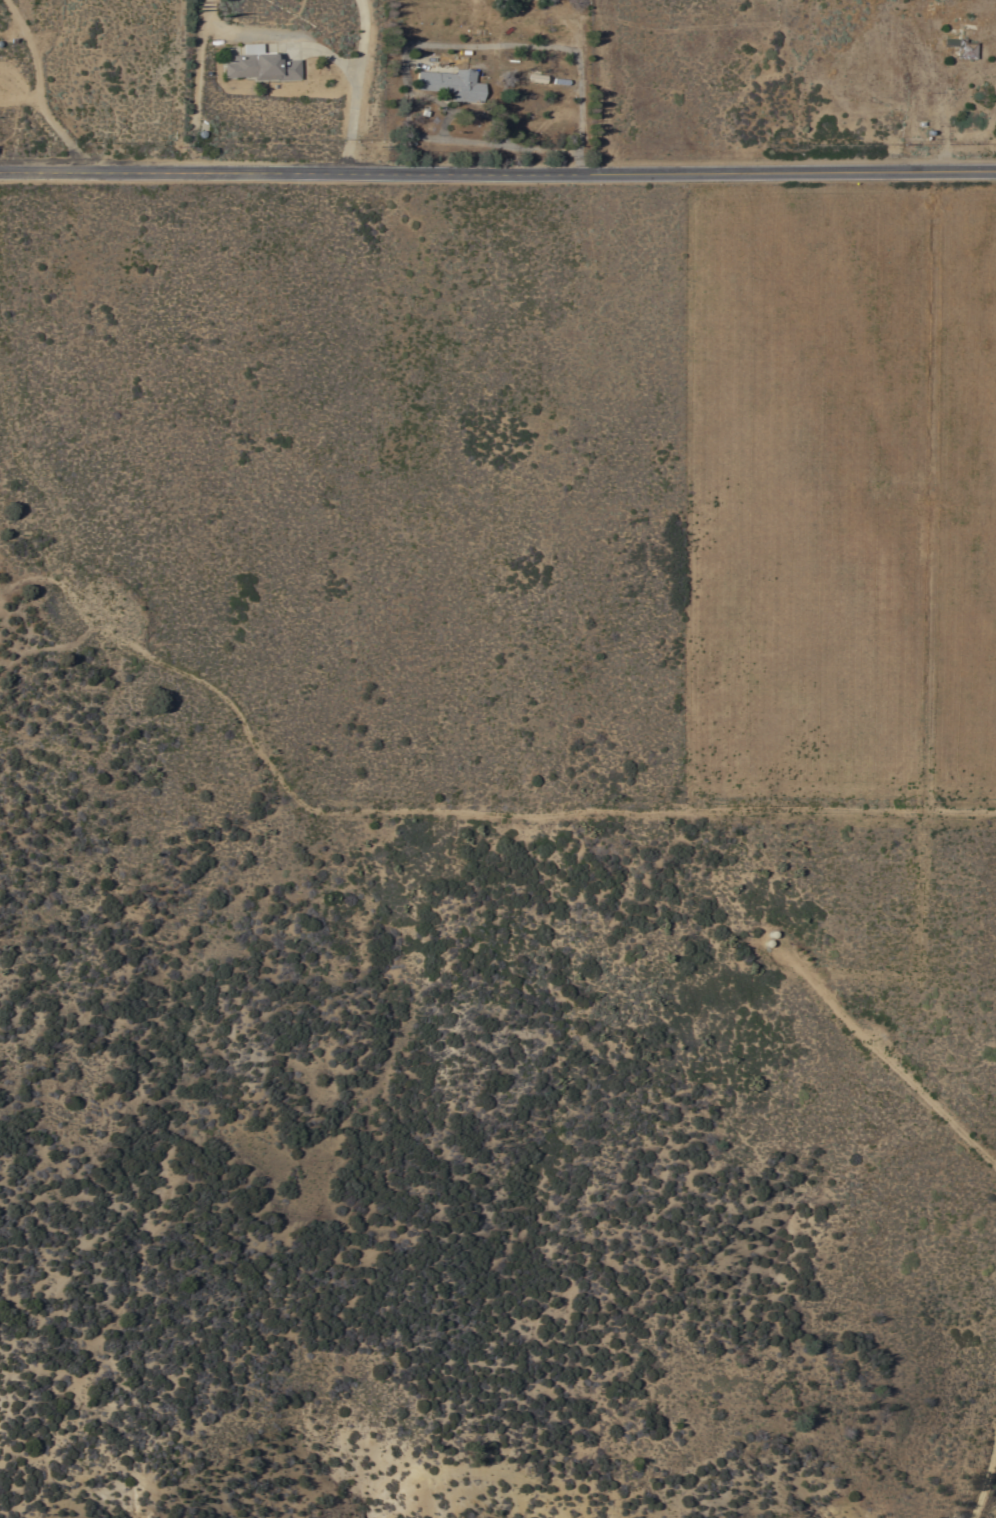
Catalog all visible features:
road: (274, 38)
road: (361, 38)
building: (958, 46)
building: (260, 65)
building: (535, 77)
building: (451, 84)
road: (44, 91)
road: (351, 124)
road: (498, 171)
road: (455, 808)
road: (971, 1023)
road: (889, 1056)
road: (817, 1061)
road: (962, 1213)
road: (987, 1485)

